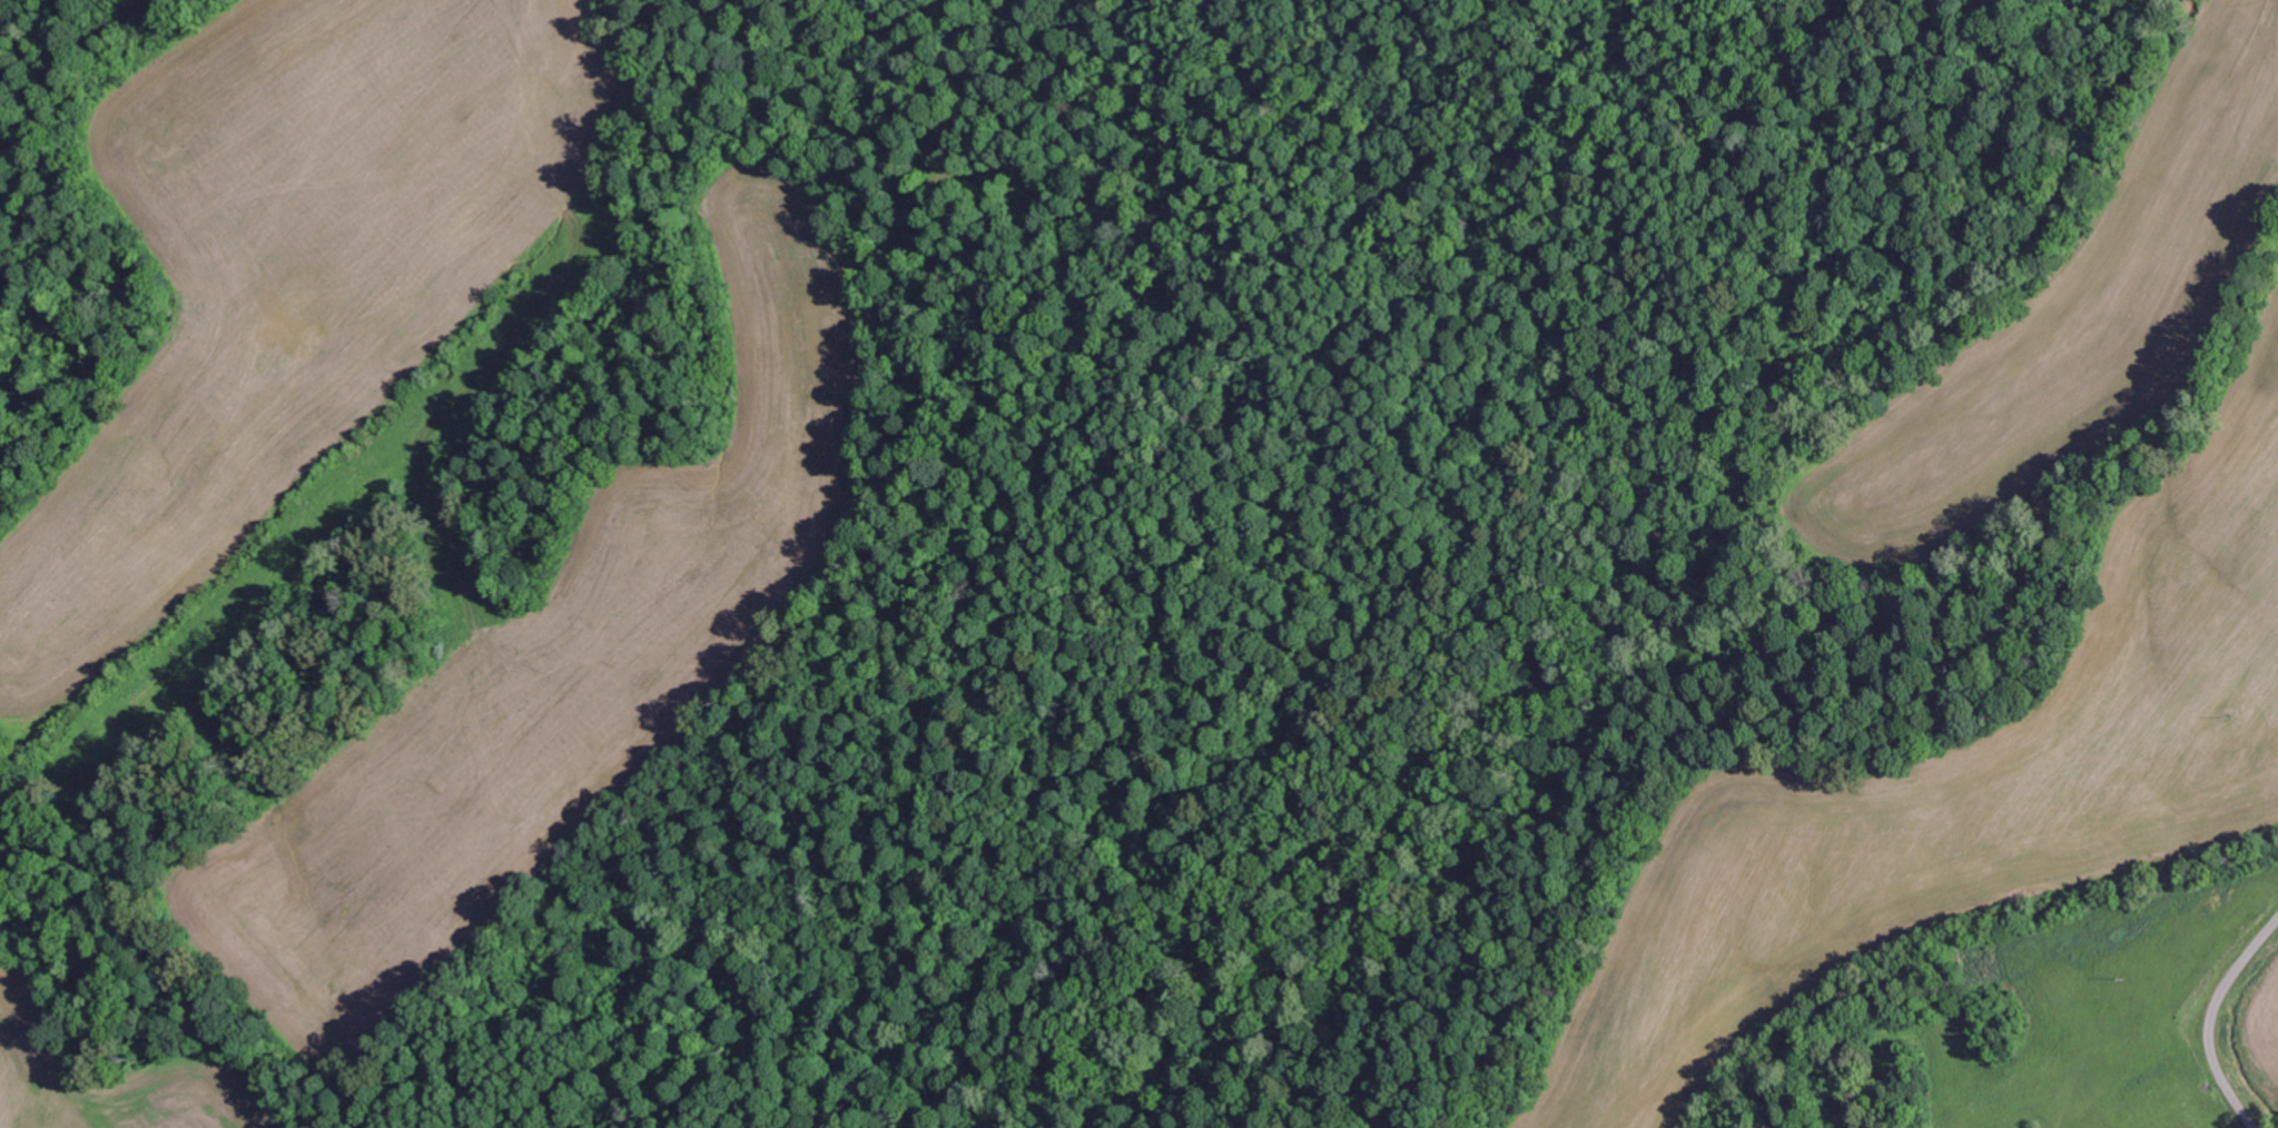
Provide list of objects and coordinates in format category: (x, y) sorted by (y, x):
road: (2215, 1019)

